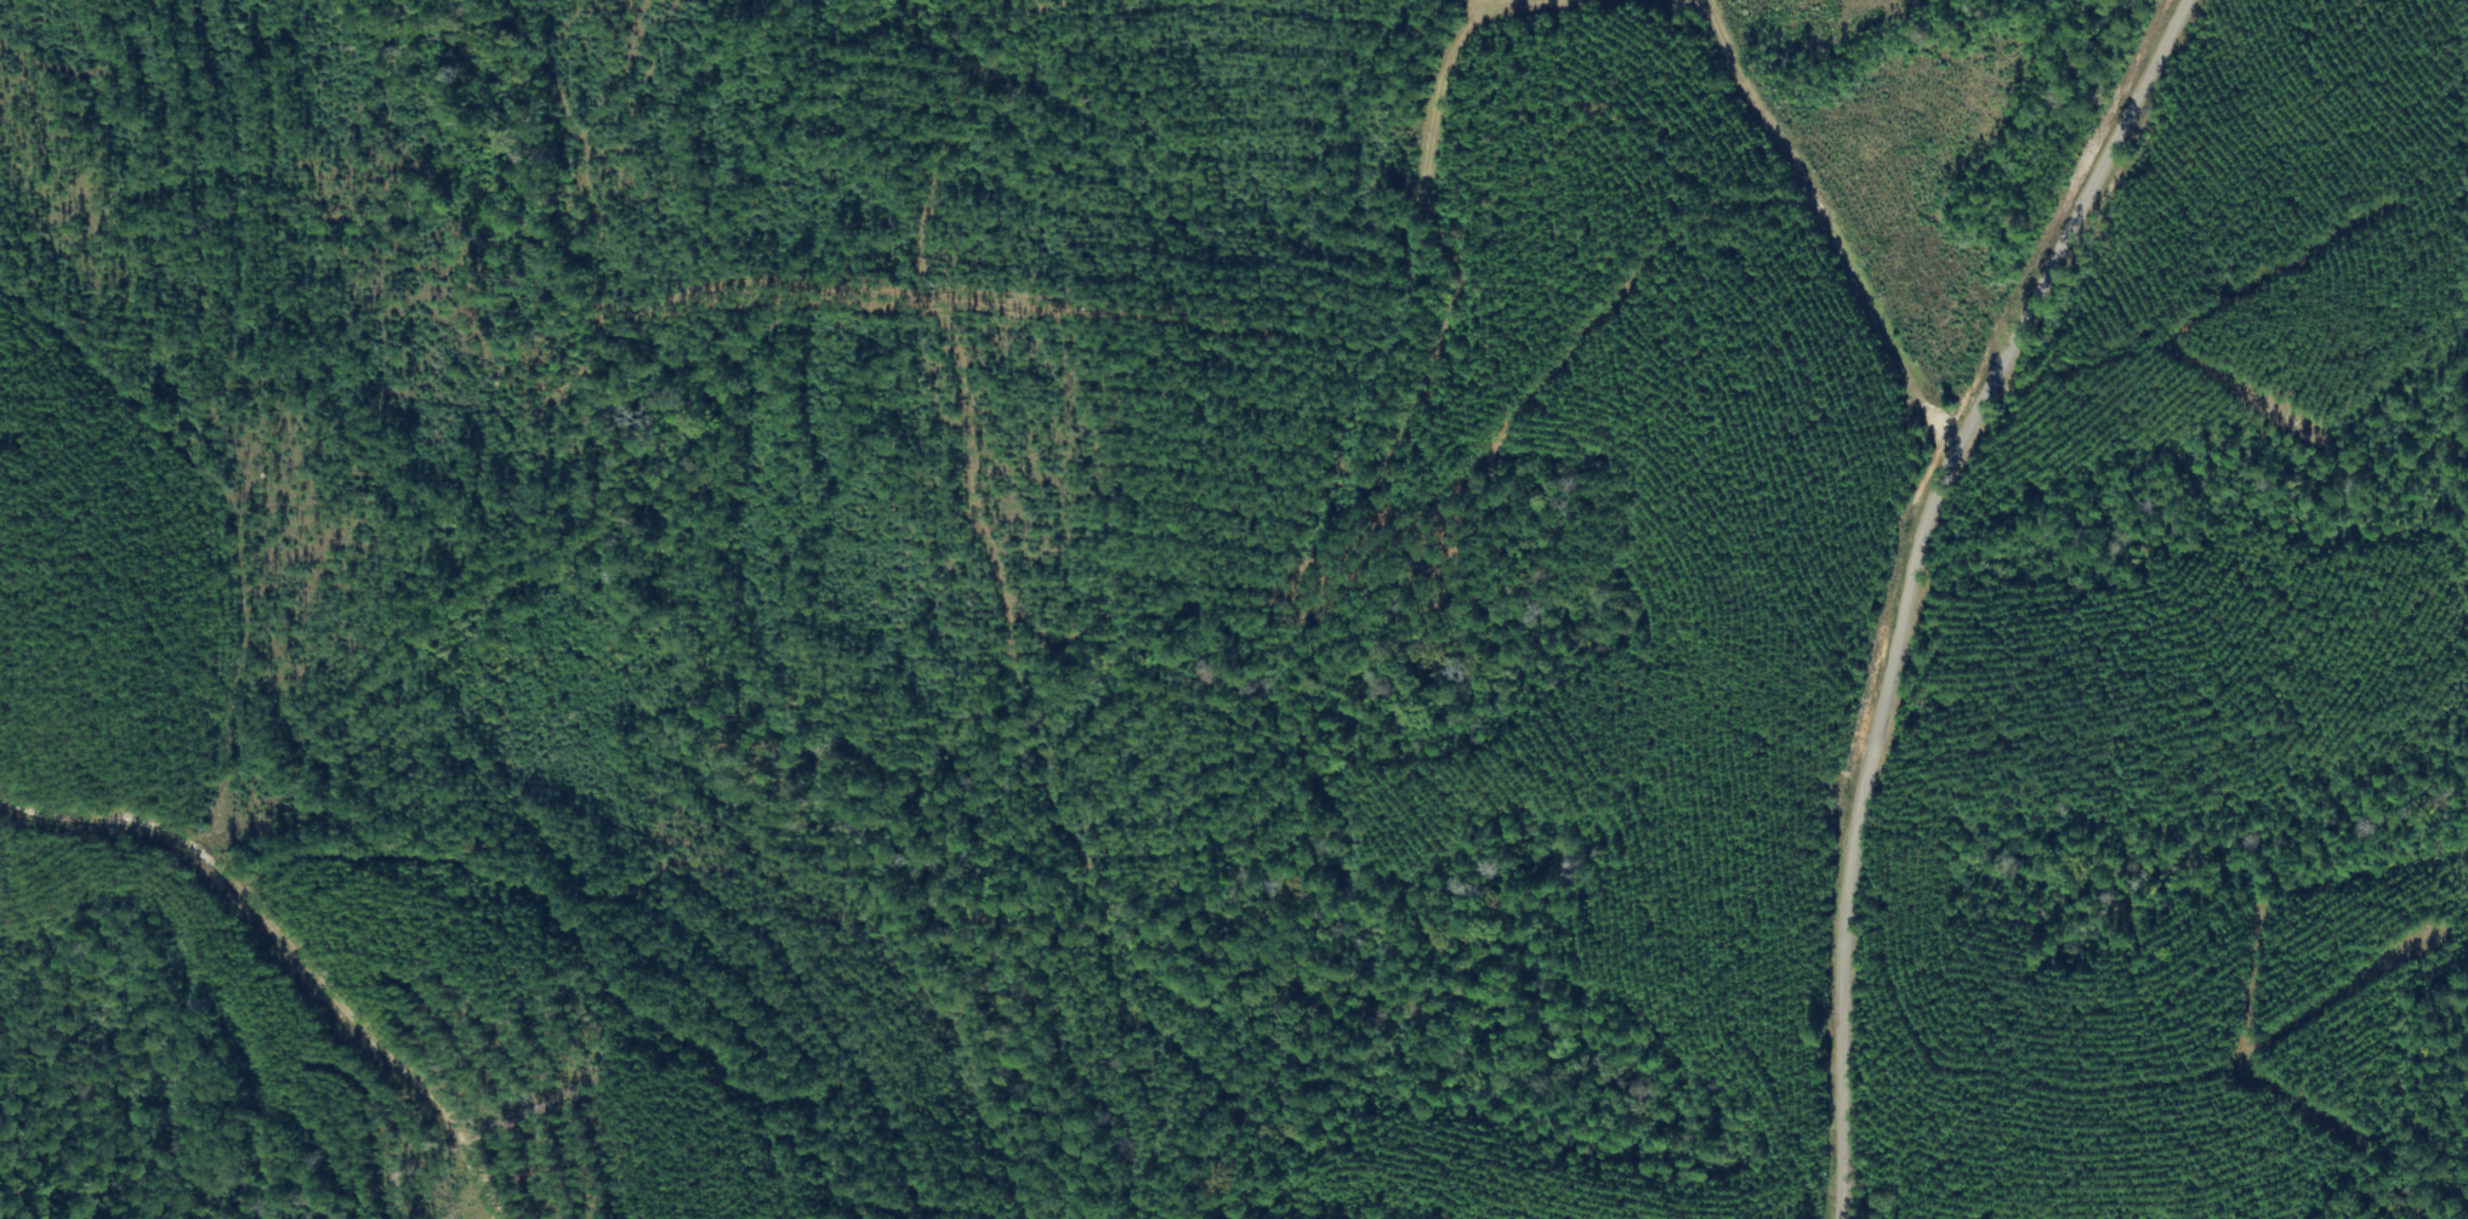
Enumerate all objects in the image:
road: (1761, 230)
road: (1871, 579)
road: (1212, 1155)

